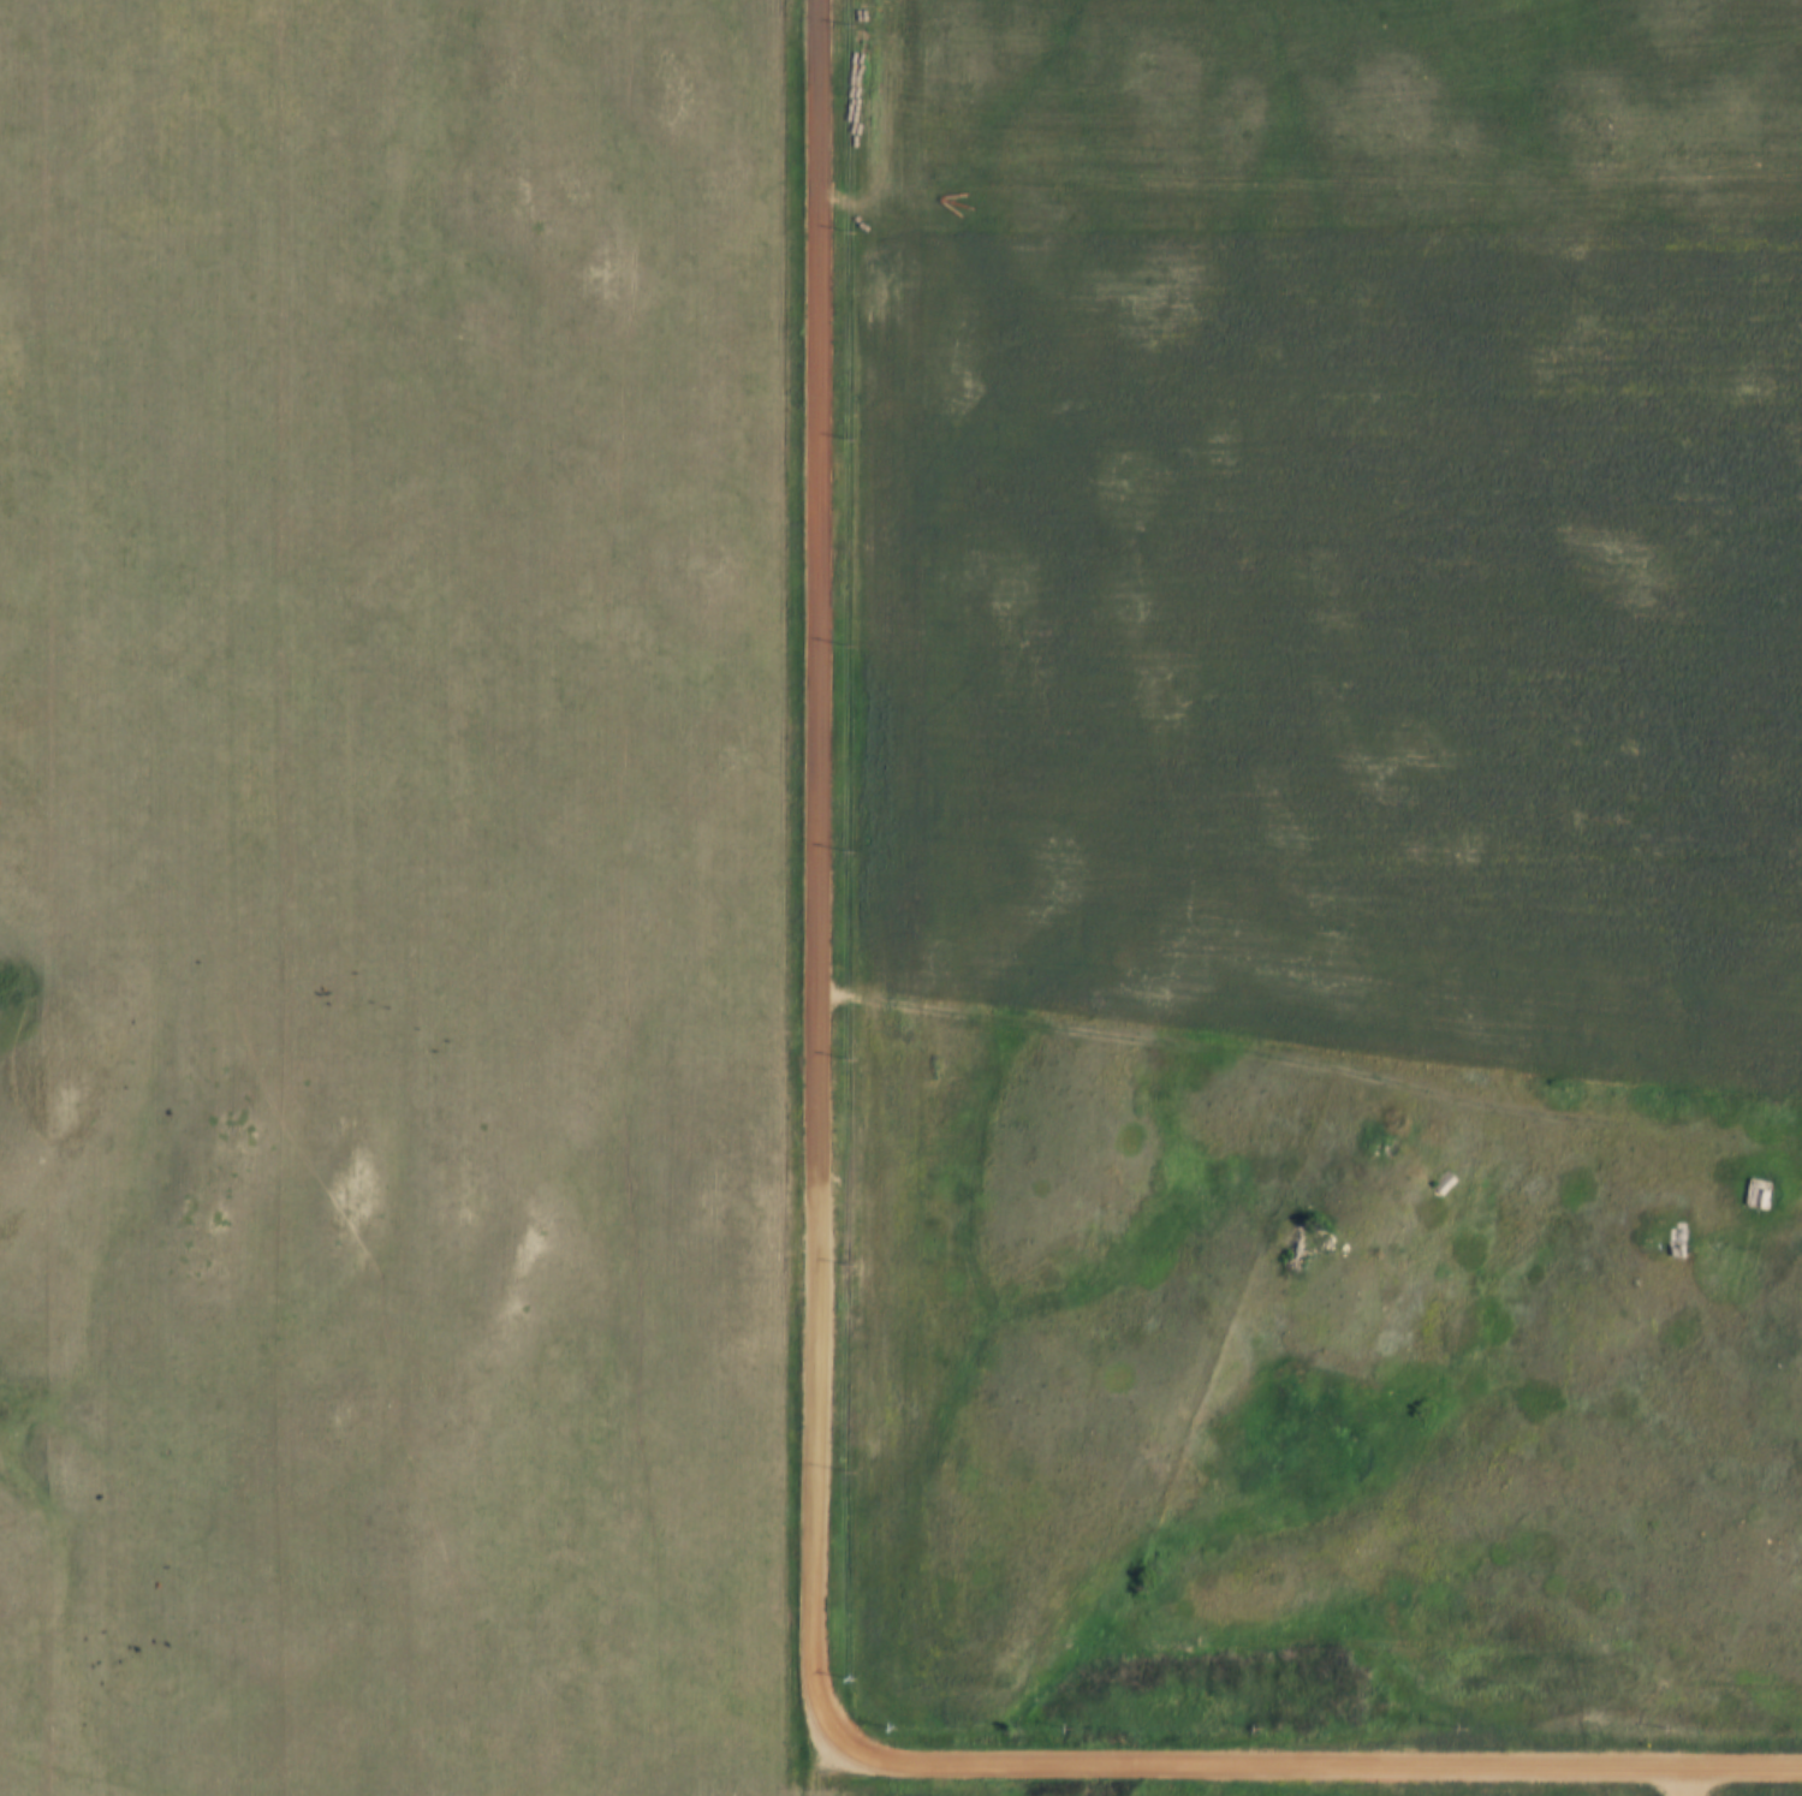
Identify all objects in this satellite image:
road: (811, 841)
road: (1283, 1767)

